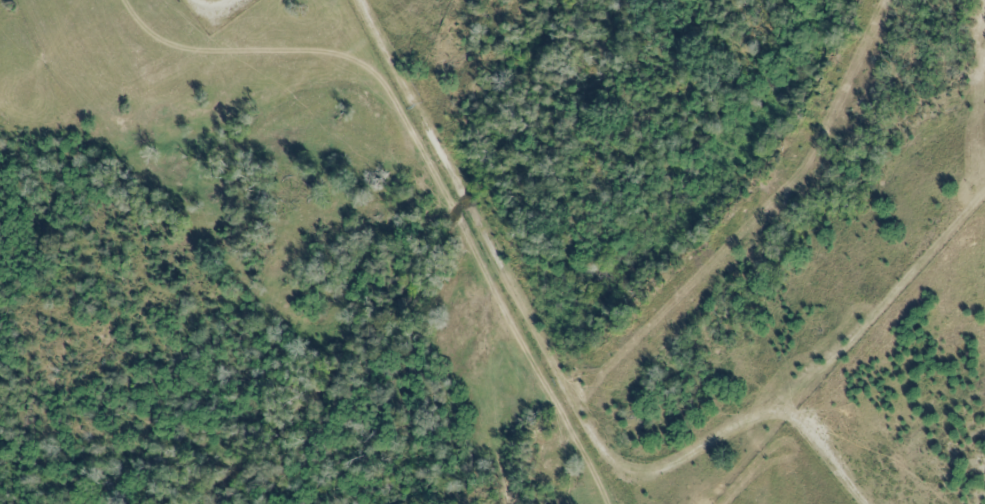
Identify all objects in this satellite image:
road: (210, 7)
road: (391, 70)
river: (413, 276)

